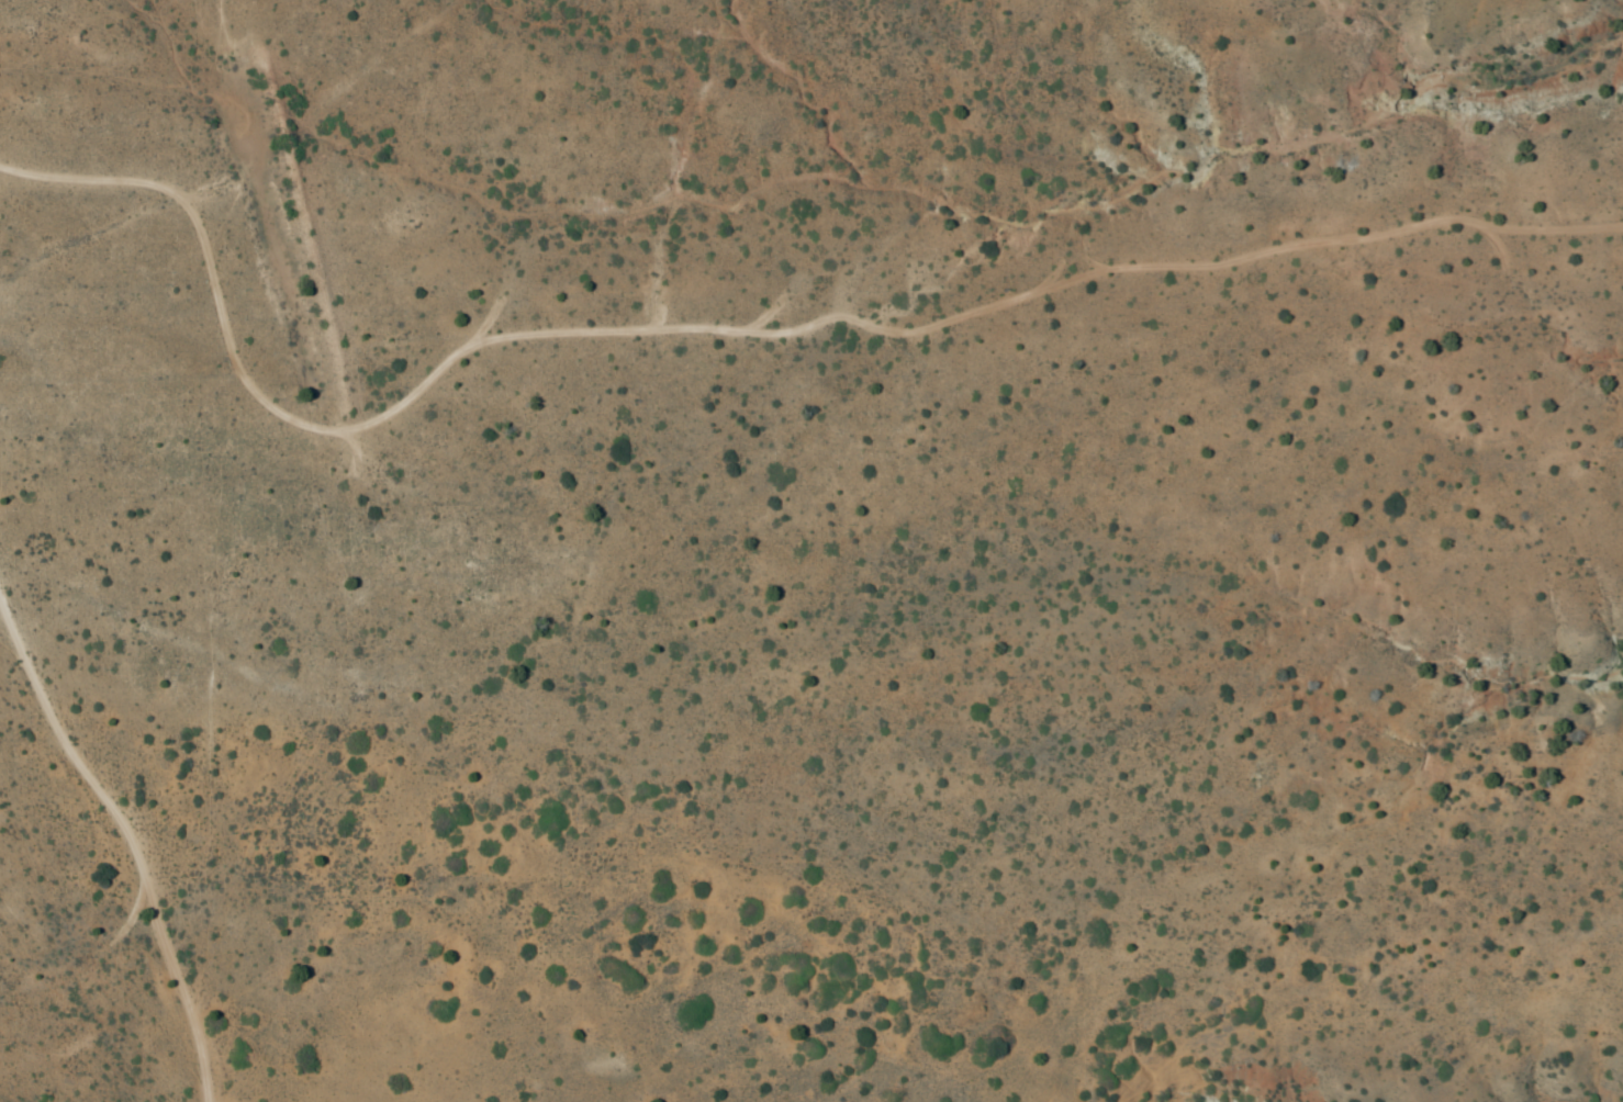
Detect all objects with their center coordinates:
road: (92, 840)

